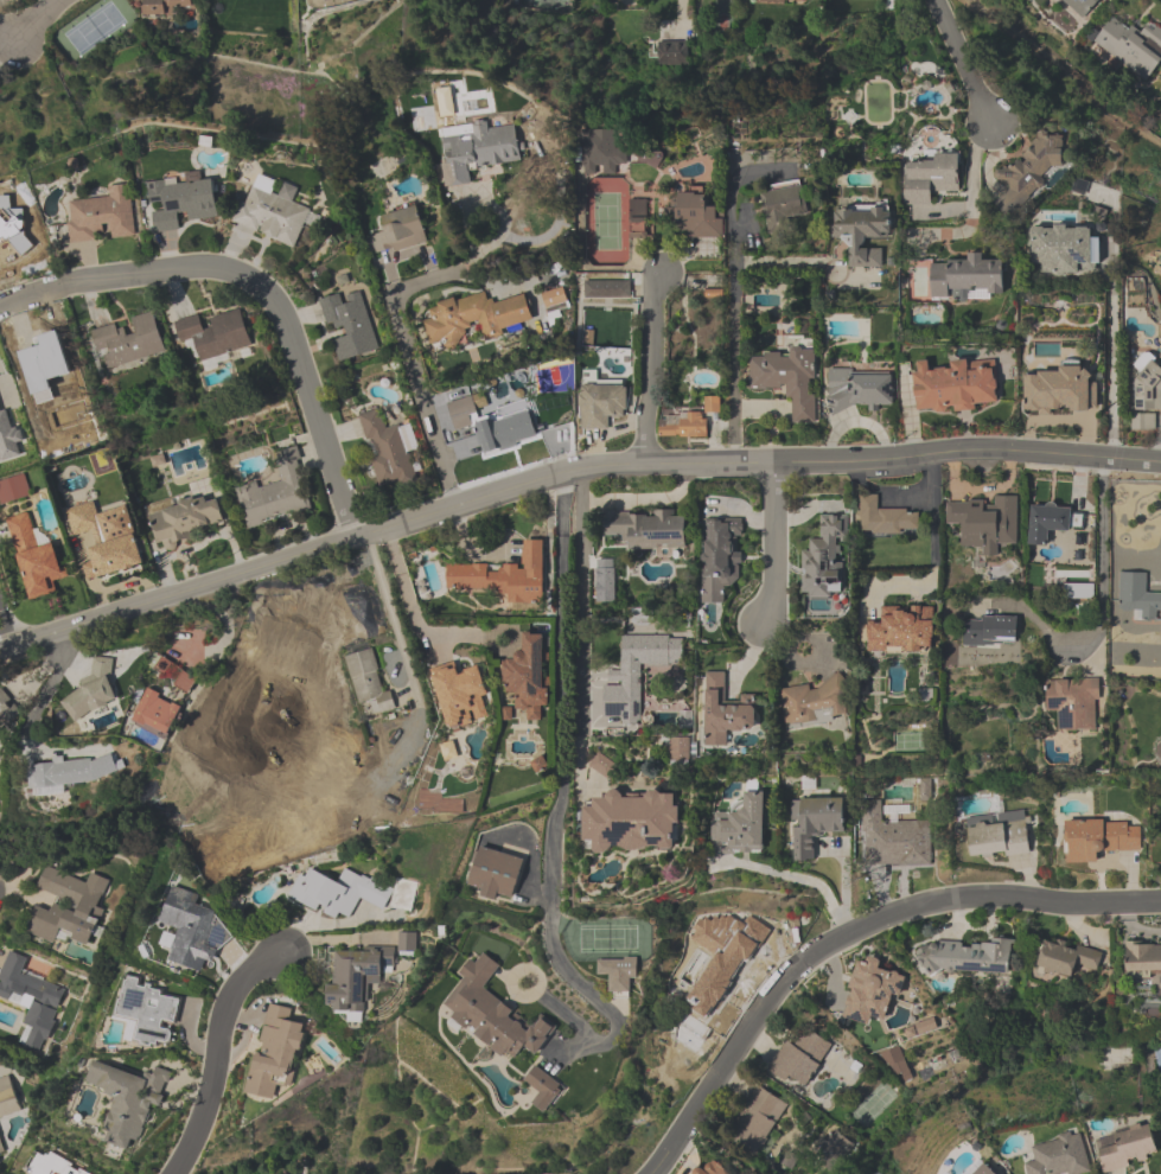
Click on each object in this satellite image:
building: (780, 1)
building: (166, 6)
building: (1080, 6)
road: (38, 21)
road: (4, 38)
building: (1131, 46)
building: (671, 53)
road: (963, 62)
building: (477, 149)
building: (599, 152)
building: (1027, 172)
building: (930, 180)
road: (972, 199)
building: (181, 203)
building: (782, 205)
building: (274, 213)
building: (637, 213)
building: (696, 216)
building: (101, 217)
road: (735, 228)
building: (398, 232)
building: (861, 235)
building: (1060, 250)
road: (785, 261)
building: (967, 280)
road: (259, 286)
building: (606, 291)
building: (551, 298)
building: (474, 317)
building: (349, 324)
building: (213, 334)
building: (127, 342)
road: (404, 343)
road: (733, 351)
road: (1110, 364)
road: (650, 368)
building: (787, 379)
building: (1147, 384)
building: (955, 385)
building: (859, 389)
building: (1058, 393)
building: (602, 403)
building: (491, 423)
road: (854, 423)
building: (1143, 423)
building: (682, 425)
building: (388, 449)
road: (567, 470)
road: (931, 480)
road: (580, 483)
building: (13, 489)
building: (276, 492)
road: (645, 498)
building: (885, 518)
building: (83, 519)
building: (184, 521)
building: (985, 522)
building: (1051, 522)
building: (643, 530)
road: (773, 542)
road: (931, 544)
building: (34, 557)
building: (113, 557)
building: (825, 557)
building: (720, 560)
building: (503, 578)
road: (404, 588)
building: (1079, 592)
building: (1137, 599)
road: (1101, 600)
road: (580, 618)
road: (393, 621)
building: (901, 631)
building: (988, 633)
building: (164, 668)
building: (636, 675)
building: (527, 677)
building: (368, 679)
building: (183, 681)
road: (47, 687)
building: (90, 695)
building: (460, 695)
building: (814, 704)
building: (1073, 704)
building: (9, 706)
building: (157, 713)
building: (723, 714)
building: (1159, 751)
building: (0, 767)
building: (72, 774)
road: (560, 793)
building: (630, 823)
building: (814, 824)
building: (740, 828)
building: (997, 836)
building: (894, 837)
building: (1098, 840)
building: (493, 874)
road: (802, 878)
building: (338, 893)
building: (69, 908)
building: (189, 929)
road: (848, 932)
building: (406, 943)
building: (967, 957)
building: (1066, 958)
building: (1142, 958)
building: (618, 972)
building: (719, 974)
building: (356, 977)
building: (870, 991)
building: (30, 1000)
building: (149, 1012)
building: (492, 1014)
building: (275, 1052)
road: (217, 1053)
building: (802, 1058)
building: (897, 1065)
building: (542, 1087)
building: (8, 1097)
building: (128, 1102)
building: (755, 1121)
building: (1, 1148)
building: (1125, 1148)
building: (1059, 1155)
building: (52, 1165)
building: (710, 1169)
building: (983, 1169)

